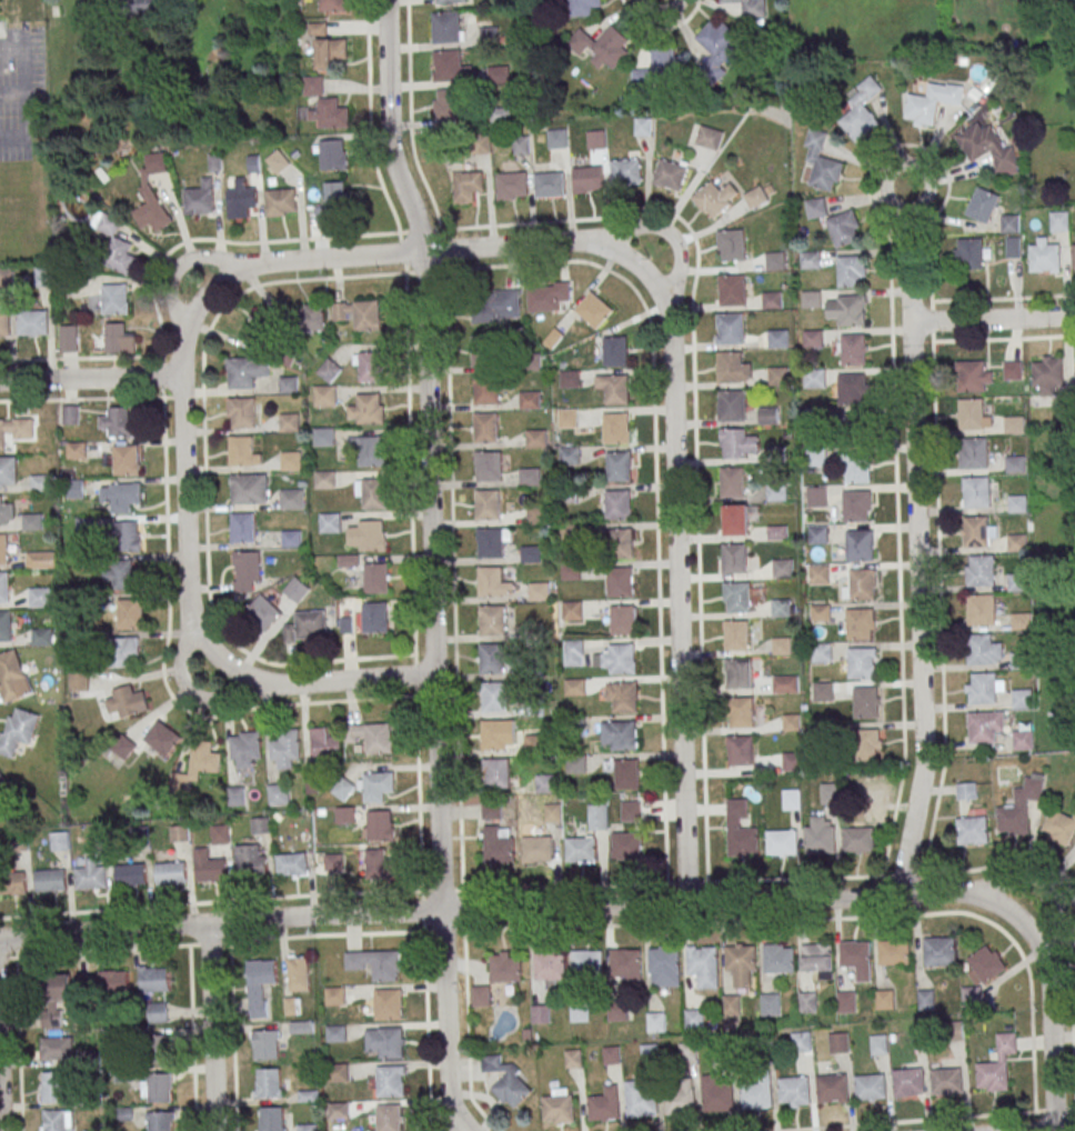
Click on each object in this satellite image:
building: (446, 2)
building: (333, 6)
building: (583, 7)
building: (749, 7)
building: (446, 27)
building: (492, 32)
building: (601, 46)
building: (719, 47)
building: (330, 52)
building: (448, 66)
building: (660, 66)
building: (498, 73)
building: (313, 86)
building: (932, 102)
building: (449, 104)
building: (861, 111)
building: (330, 114)
building: (709, 137)
building: (557, 139)
building: (595, 139)
building: (479, 144)
building: (521, 144)
building: (987, 148)
building: (333, 154)
building: (277, 162)
building: (822, 162)
building: (625, 171)
building: (670, 173)
building: (587, 179)
building: (550, 184)
building: (512, 186)
building: (468, 187)
building: (153, 197)
building: (755, 197)
building: (200, 198)
building: (241, 198)
building: (714, 198)
building: (281, 202)
building: (333, 204)
road: (911, 204)
building: (982, 204)
building: (815, 208)
building: (1059, 221)
building: (1009, 223)
building: (843, 228)
road: (626, 231)
building: (731, 246)
building: (1013, 247)
road: (421, 251)
building: (968, 253)
building: (121, 257)
building: (1074, 257)
road: (220, 258)
building: (1045, 259)
building: (775, 260)
building: (811, 261)
building: (851, 273)
building: (43, 277)
road: (677, 280)
building: (733, 293)
building: (546, 297)
building: (114, 299)
road: (1003, 299)
road: (175, 301)
building: (811, 301)
building: (772, 302)
building: (495, 304)
building: (593, 309)
building: (359, 313)
building: (847, 313)
building: (311, 318)
road: (993, 320)
building: (4, 324)
building: (33, 326)
building: (262, 327)
building: (732, 330)
building: (70, 338)
building: (119, 339)
building: (778, 340)
building: (813, 341)
building: (485, 352)
building: (854, 352)
building: (616, 354)
building: (369, 367)
building: (732, 368)
building: (330, 370)
building: (1013, 370)
building: (247, 372)
building: (974, 376)
road: (163, 378)
building: (780, 378)
building: (1048, 378)
road: (91, 379)
building: (814, 380)
building: (289, 384)
building: (852, 389)
building: (488, 392)
building: (616, 392)
building: (324, 396)
building: (530, 400)
building: (733, 408)
building: (368, 409)
building: (242, 412)
building: (973, 413)
building: (71, 414)
building: (814, 416)
building: (567, 418)
building: (768, 418)
building: (119, 422)
building: (289, 422)
building: (1014, 424)
building: (852, 427)
building: (615, 428)
building: (16, 429)
building: (486, 430)
building: (323, 437)
building: (536, 438)
building: (737, 443)
building: (77, 450)
building: (244, 451)
building: (370, 451)
building: (973, 452)
road: (429, 453)
building: (775, 453)
building: (815, 456)
building: (127, 460)
building: (290, 460)
building: (1015, 463)
building: (489, 466)
building: (857, 467)
building: (620, 469)
building: (9, 472)
building: (530, 476)
road: (184, 480)
building: (324, 480)
building: (733, 480)
building: (40, 483)
building: (76, 489)
building: (249, 489)
building: (975, 491)
building: (776, 492)
building: (371, 493)
building: (816, 494)
building: (121, 496)
building: (292, 499)
building: (1017, 503)
building: (617, 504)
building: (856, 504)
building: (489, 508)
building: (6, 514)
building: (737, 517)
building: (32, 522)
building: (331, 522)
building: (242, 528)
road: (897, 531)
building: (777, 532)
building: (977, 532)
building: (366, 534)
building: (817, 534)
building: (129, 537)
building: (291, 538)
building: (492, 541)
building: (1016, 543)
building: (860, 544)
building: (622, 546)
building: (3, 549)
road: (938, 556)
building: (735, 558)
road: (918, 559)
building: (41, 560)
building: (782, 568)
building: (981, 570)
building: (247, 571)
building: (818, 573)
building: (123, 578)
building: (376, 578)
road: (676, 580)
building: (1017, 581)
road: (413, 582)
building: (494, 582)
building: (620, 582)
building: (862, 583)
building: (4, 587)
building: (297, 590)
building: (539, 591)
road: (700, 593)
building: (737, 594)
building: (39, 597)
building: (780, 607)
road: (659, 608)
building: (981, 609)
building: (572, 610)
building: (264, 611)
building: (820, 612)
building: (130, 613)
building: (375, 617)
building: (622, 619)
building: (493, 620)
building: (1021, 622)
building: (860, 623)
building: (6, 625)
building: (308, 625)
building: (736, 633)
building: (42, 637)
building: (781, 644)
building: (979, 649)
building: (127, 650)
building: (573, 652)
building: (821, 652)
building: (622, 657)
building: (492, 658)
building: (1019, 660)
building: (861, 662)
building: (740, 673)
building: (12, 677)
road: (455, 680)
road: (325, 681)
building: (784, 683)
building: (574, 687)
building: (982, 688)
road: (188, 689)
building: (823, 691)
building: (494, 695)
building: (625, 697)
building: (1021, 699)
building: (125, 702)
building: (865, 702)
building: (742, 711)
building: (791, 722)
building: (982, 725)
building: (18, 731)
building: (823, 731)
building: (493, 734)
building: (624, 735)
building: (372, 737)
building: (163, 738)
building: (1022, 740)
building: (324, 743)
building: (535, 743)
building: (865, 743)
building: (124, 748)
building: (245, 749)
building: (285, 749)
building: (742, 749)
building: (203, 759)
building: (792, 760)
building: (576, 764)
building: (498, 773)
building: (627, 773)
building: (2, 781)
building: (546, 782)
building: (375, 785)
building: (343, 789)
building: (966, 791)
building: (828, 793)
building: (279, 794)
building: (237, 795)
building: (791, 799)
building: (1021, 807)
building: (491, 810)
building: (631, 810)
building: (345, 815)
building: (597, 817)
building: (260, 825)
building: (378, 825)
building: (1059, 828)
building: (740, 829)
building: (972, 830)
building: (179, 833)
building: (221, 834)
building: (818, 838)
building: (857, 839)
building: (60, 841)
building: (782, 842)
building: (498, 844)
building: (627, 844)
building: (537, 848)
building: (581, 849)
building: (335, 863)
building: (291, 864)
building: (378, 864)
building: (251, 867)
building: (211, 870)
building: (172, 873)
building: (131, 875)
building: (91, 878)
road: (1038, 879)
building: (51, 881)
building: (12, 883)
road: (480, 890)
road: (530, 908)
road: (701, 923)
road: (231, 941)
building: (893, 951)
building: (940, 951)
building: (854, 953)
building: (816, 957)
building: (777, 959)
building: (625, 961)
building: (586, 962)
building: (741, 963)
building: (375, 964)
building: (549, 964)
building: (704, 965)
building: (664, 967)
building: (505, 969)
building: (298, 972)
building: (982, 972)
building: (154, 980)
building: (113, 982)
building: (260, 985)
building: (58, 987)
building: (334, 995)
building: (480, 995)
building: (884, 999)
building: (926, 999)
building: (807, 1002)
building: (846, 1002)
building: (388, 1004)
building: (770, 1004)
building: (292, 1005)
building: (731, 1005)
building: (616, 1011)
building: (158, 1012)
building: (579, 1012)
building: (540, 1013)
building: (693, 1019)
building: (655, 1022)
road: (445, 1023)
road: (212, 1027)
road: (232, 1037)
road: (192, 1038)
road: (1049, 1039)
building: (801, 1041)
building: (838, 1042)
building: (384, 1043)
building: (878, 1043)
road: (18, 1044)
building: (265, 1045)
building: (57, 1048)
building: (163, 1049)
building: (687, 1050)
building: (647, 1053)
building: (611, 1055)
building: (572, 1059)
building: (996, 1064)
building: (390, 1081)
building: (505, 1081)
building: (946, 1081)
building: (910, 1082)
building: (268, 1083)
building: (53, 1087)
building: (870, 1087)
building: (159, 1088)
building: (831, 1088)
building: (793, 1089)
building: (716, 1095)
building: (755, 1095)
building: (640, 1098)
building: (679, 1101)
building: (604, 1103)
building: (557, 1107)
building: (389, 1117)
road: (0, 1118)
building: (271, 1118)
building: (53, 1120)
road: (934, 1120)
building: (159, 1121)
road: (449, 1121)
road: (1064, 1130)

